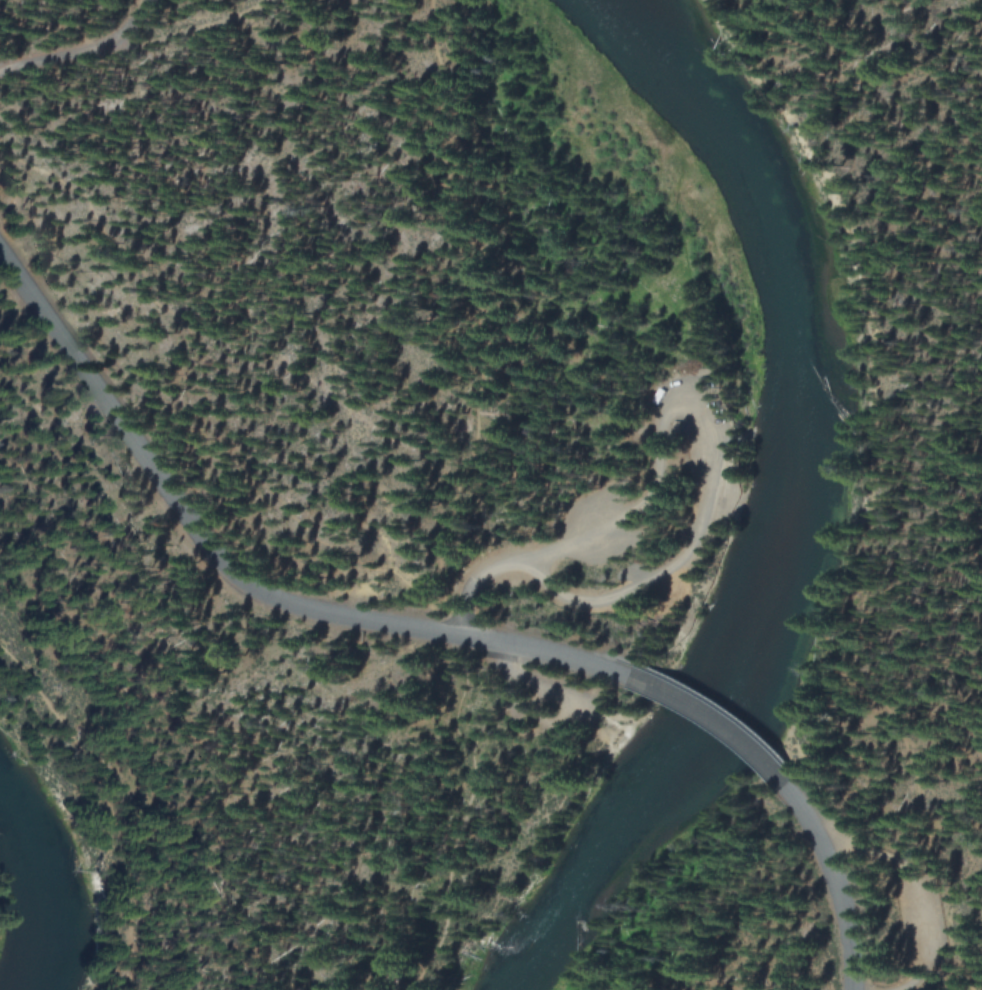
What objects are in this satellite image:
road: (131, 41)
road: (85, 54)
road: (942, 419)
road: (456, 499)
river: (795, 507)
road: (651, 572)
road: (232, 573)
road: (712, 721)
road: (90, 803)
road: (958, 873)
road: (837, 880)
river: (32, 885)
parking lot: (913, 905)
road: (927, 957)
road: (951, 967)

